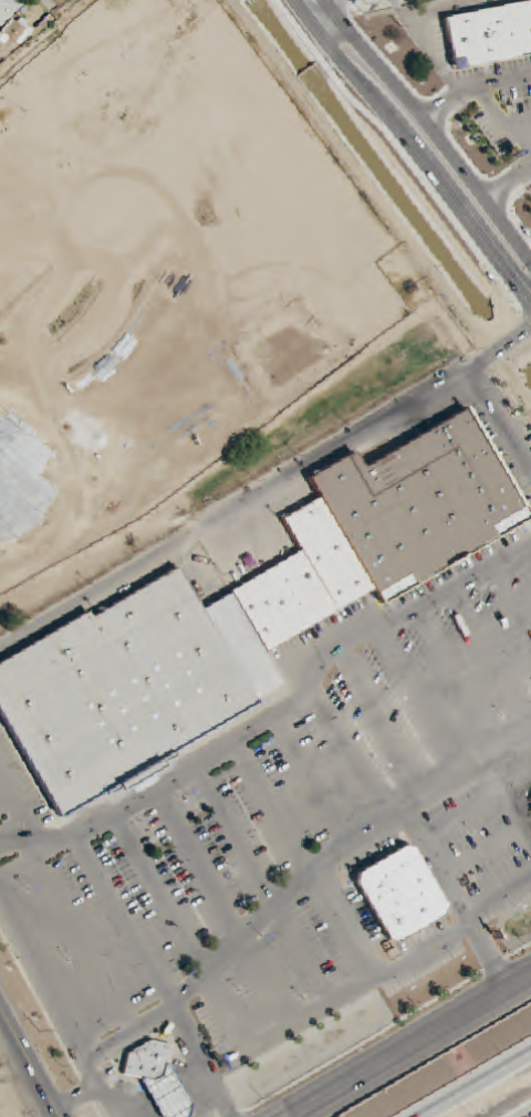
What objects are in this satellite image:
road: (330, 6)
building: (8, 9)
building: (79, 9)
building: (521, 27)
building: (14, 34)
building: (52, 34)
building: (494, 35)
building: (206, 36)
building: (461, 39)
building: (31, 60)
building: (228, 61)
road: (442, 71)
road: (493, 83)
building: (59, 86)
building: (110, 91)
road: (500, 118)
road: (421, 144)
road: (405, 167)
road: (501, 188)
road: (501, 352)
road: (499, 421)
road: (235, 509)
road: (510, 599)
building: (243, 615)
road: (391, 618)
road: (491, 657)
road: (456, 680)
road: (421, 701)
road: (383, 723)
road: (237, 739)
road: (345, 758)
road: (273, 806)
road: (17, 808)
building: (528, 811)
road: (237, 836)
road: (337, 852)
road: (199, 866)
building: (398, 892)
road: (163, 894)
road: (137, 942)
road: (94, 952)
road: (59, 989)
road: (407, 1044)
road: (29, 1063)
building: (158, 1078)
road: (478, 1086)
road: (87, 1090)
road: (117, 1093)

